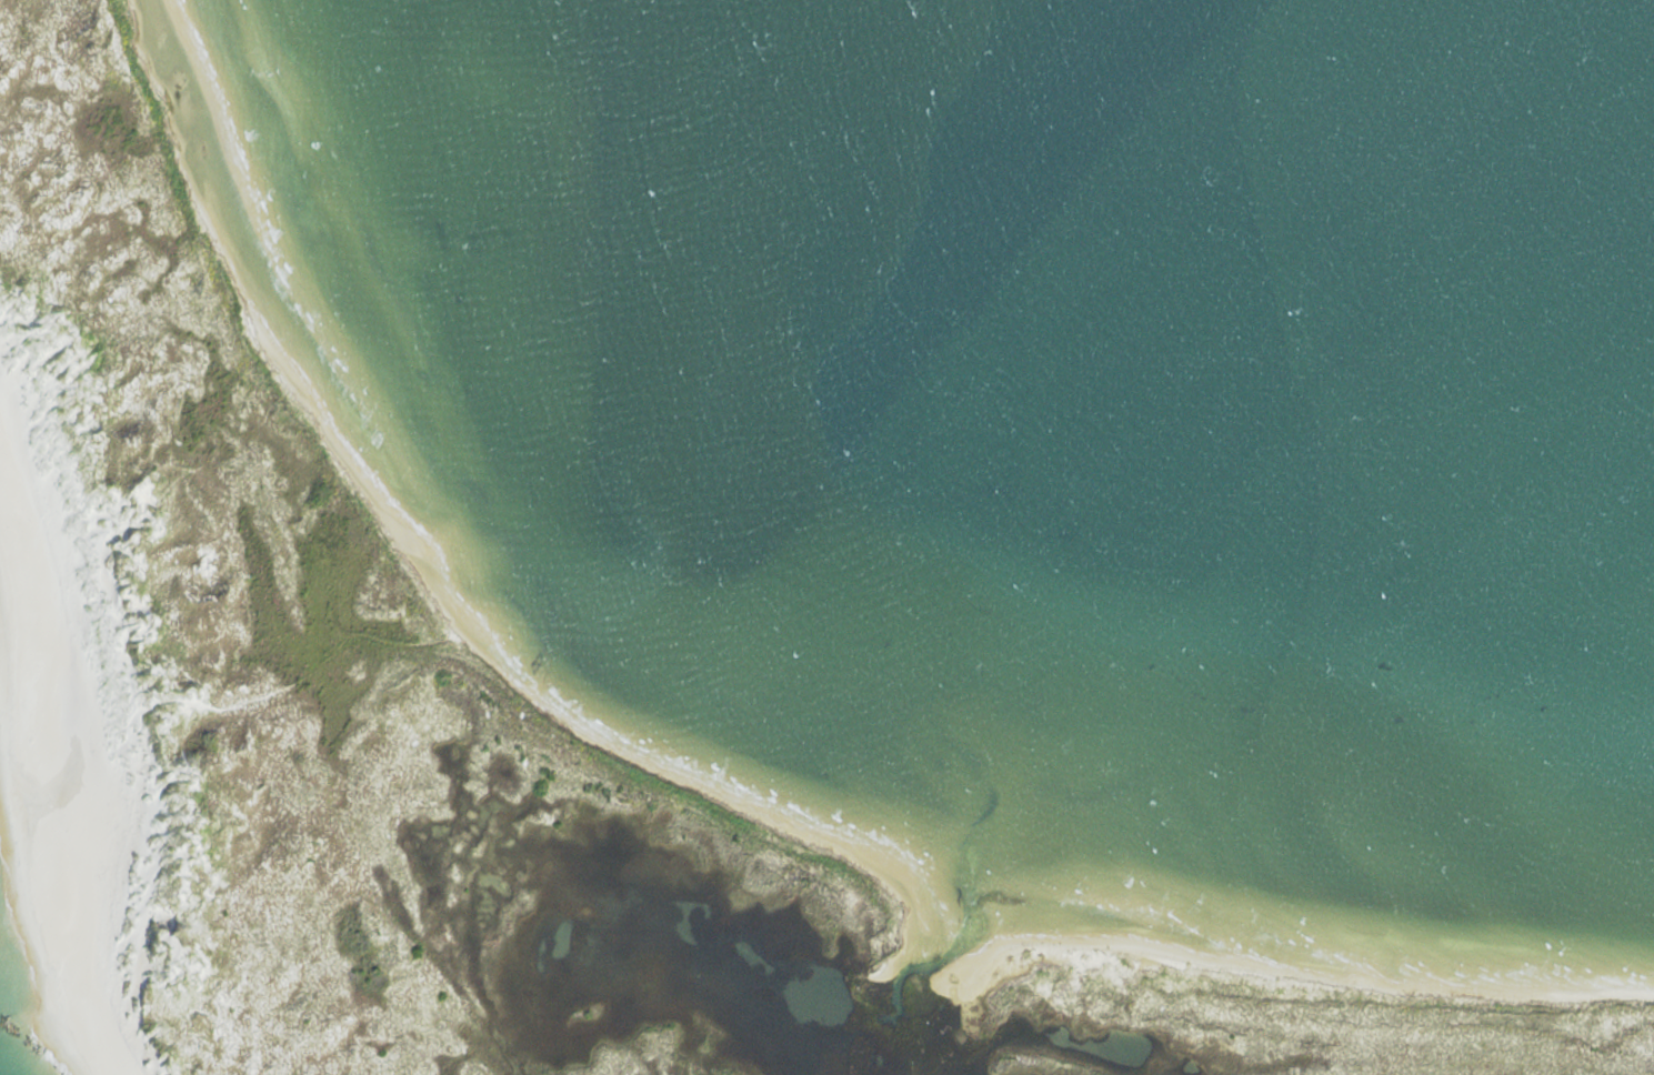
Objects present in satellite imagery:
road: (302, 677)

